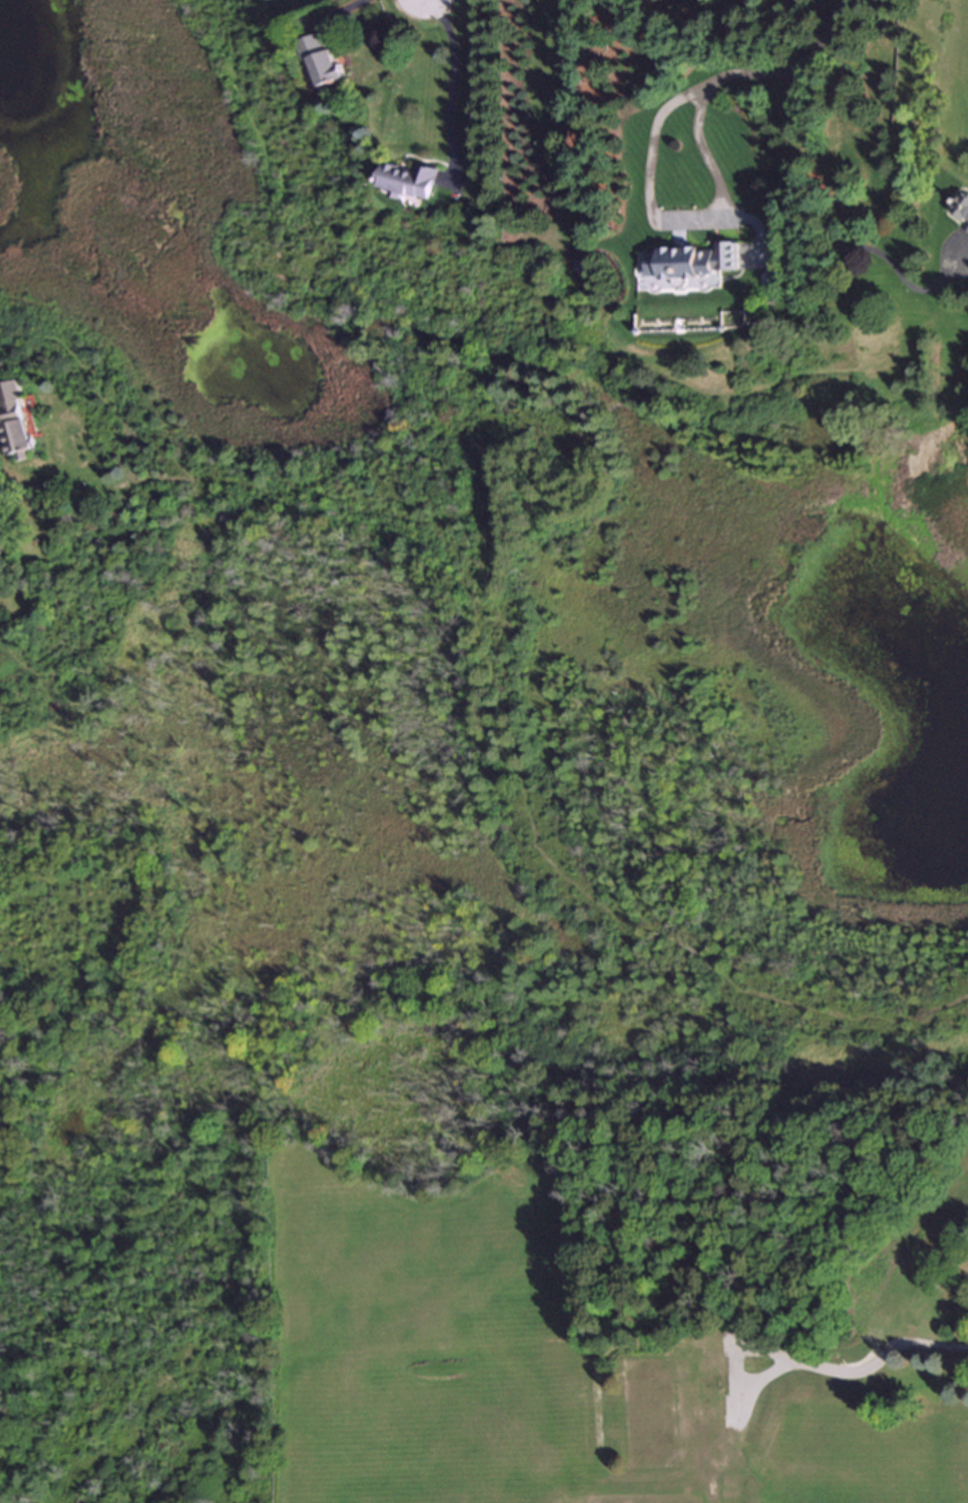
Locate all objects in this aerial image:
road: (334, 13)
building: (322, 62)
road: (732, 73)
road: (451, 88)
building: (409, 182)
building: (961, 209)
building: (966, 231)
building: (690, 264)
road: (964, 267)
building: (14, 422)
building: (2, 547)
building: (891, 1288)
road: (796, 1360)
building: (919, 1384)
building: (669, 1400)
building: (580, 1453)
building: (740, 1488)

